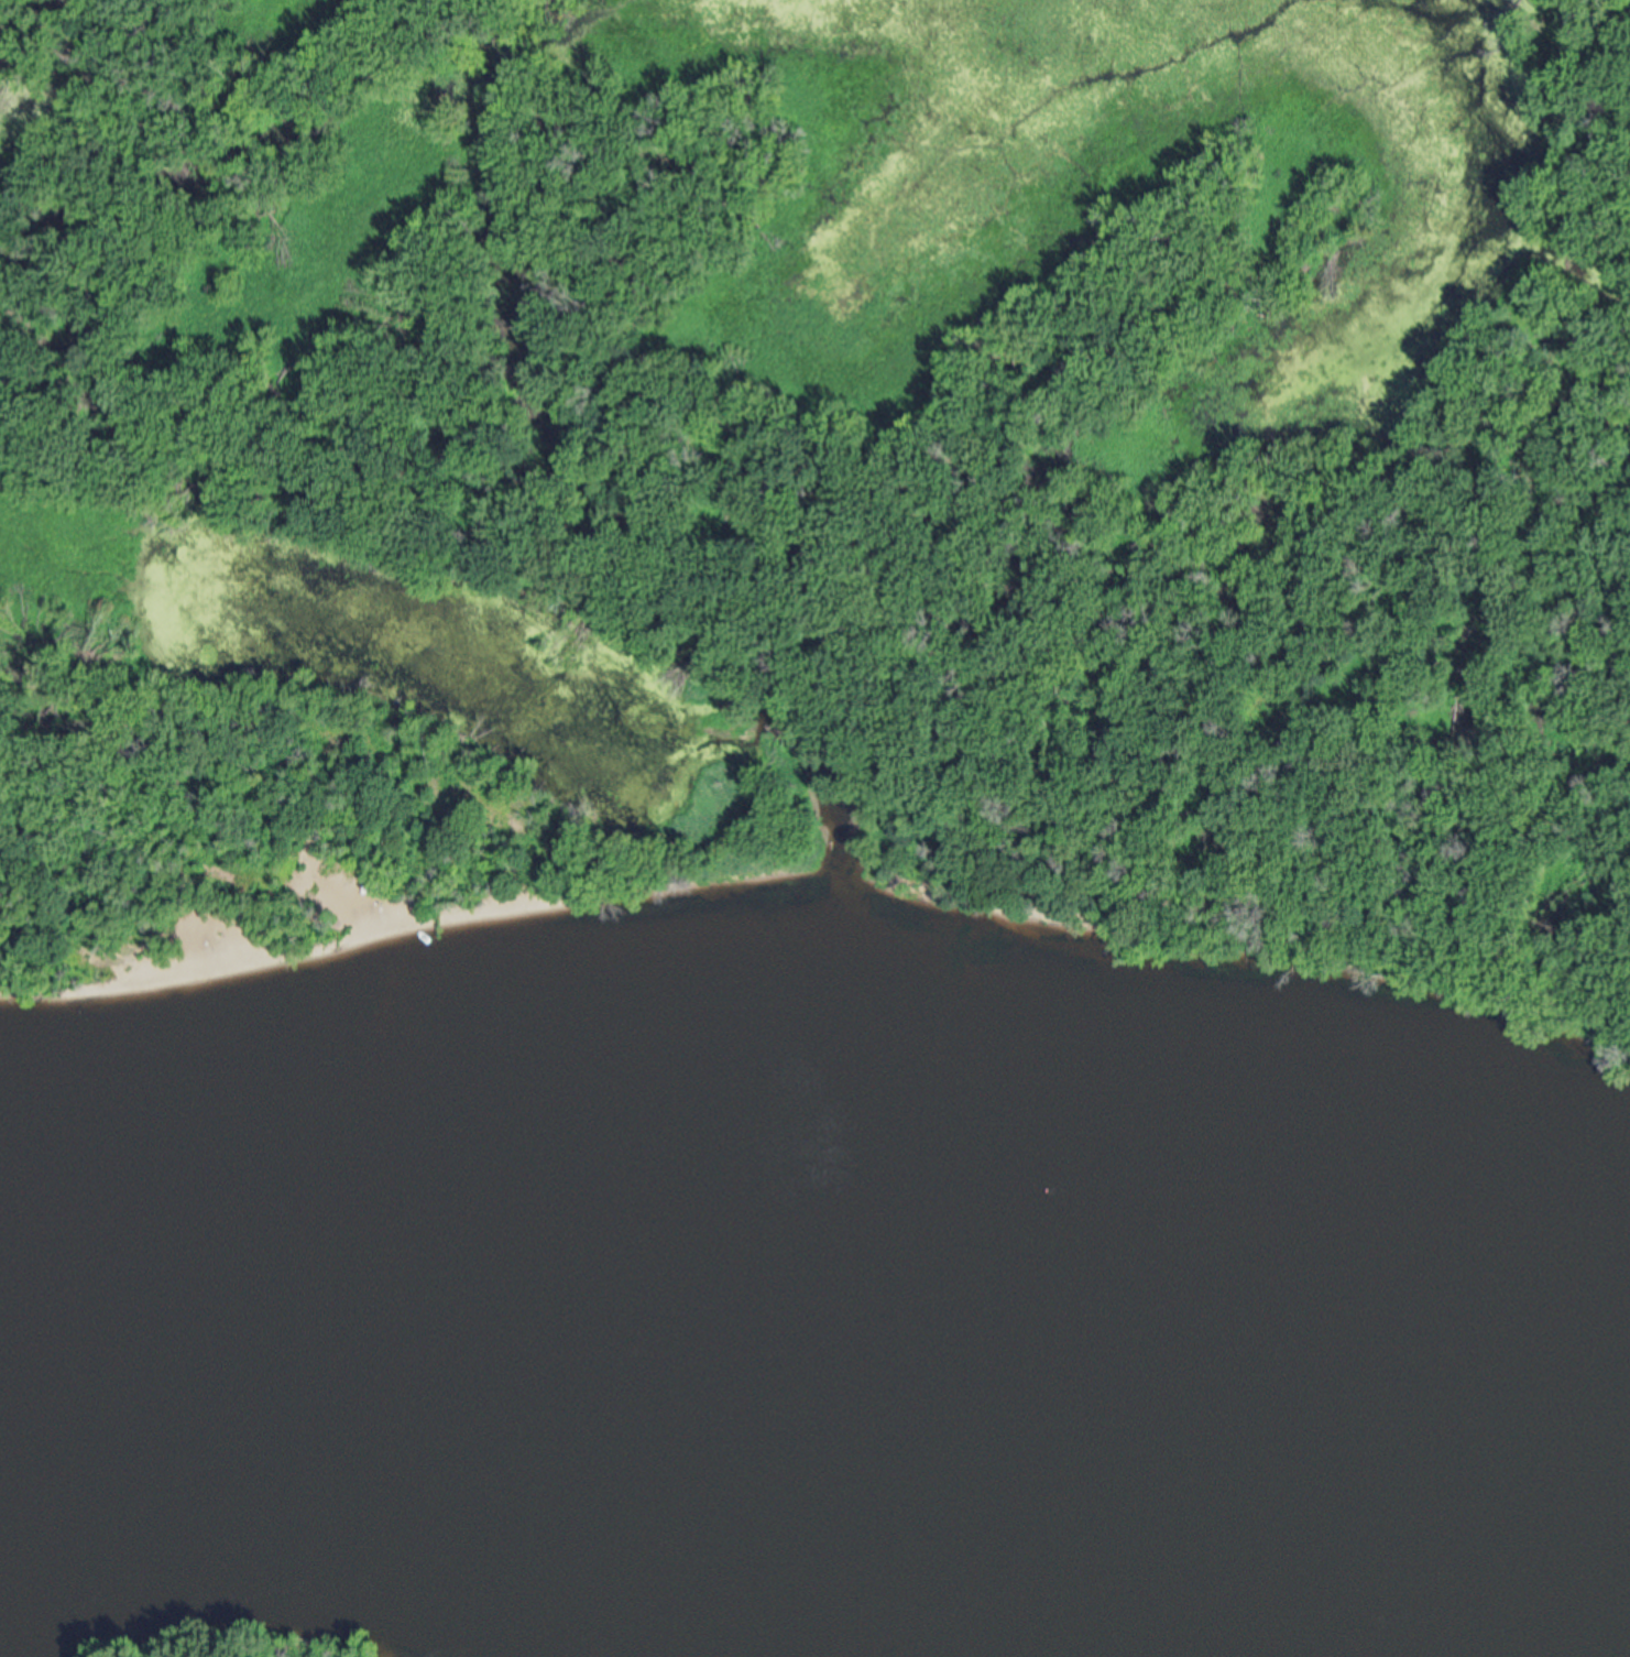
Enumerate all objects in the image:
river: (817, 1541)

